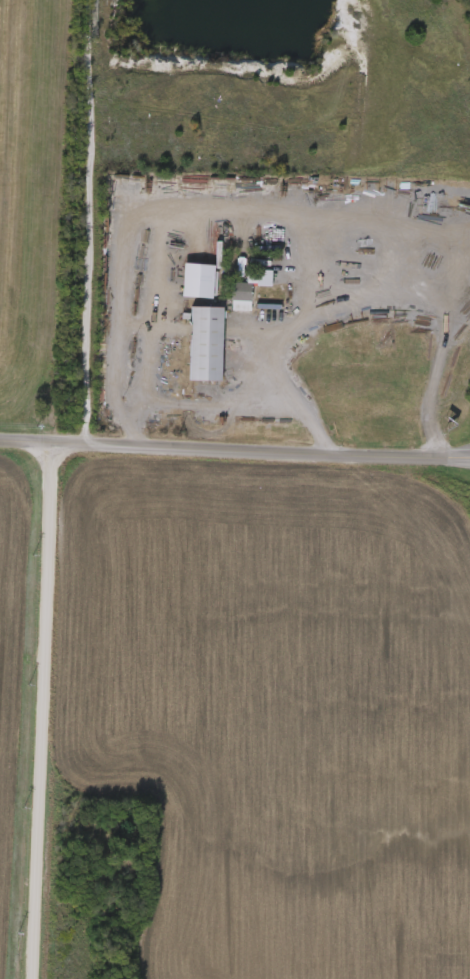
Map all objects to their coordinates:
road: (86, 222)
road: (228, 223)
building: (237, 298)
road: (463, 299)
building: (201, 345)
road: (206, 407)
road: (234, 451)
road: (42, 711)

